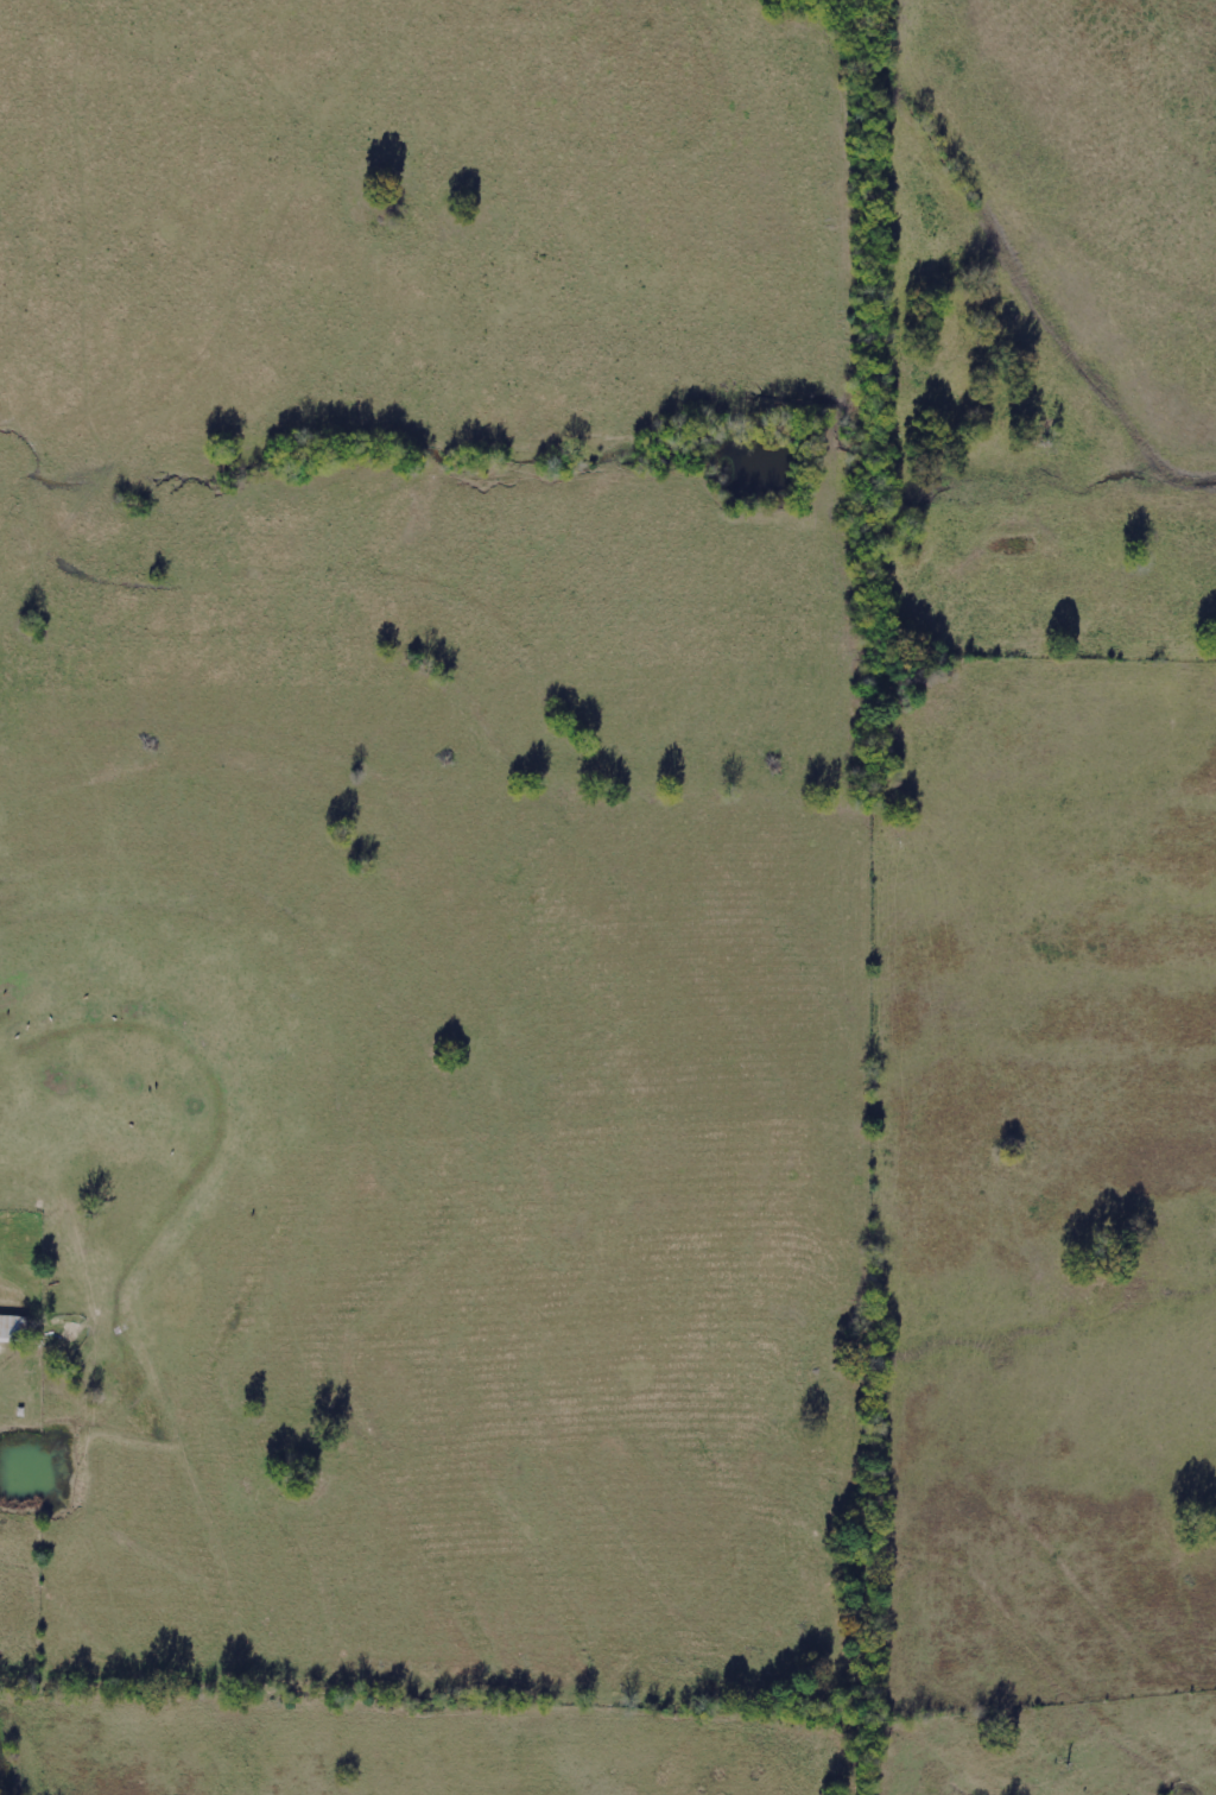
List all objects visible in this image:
building: (13, 1328)

